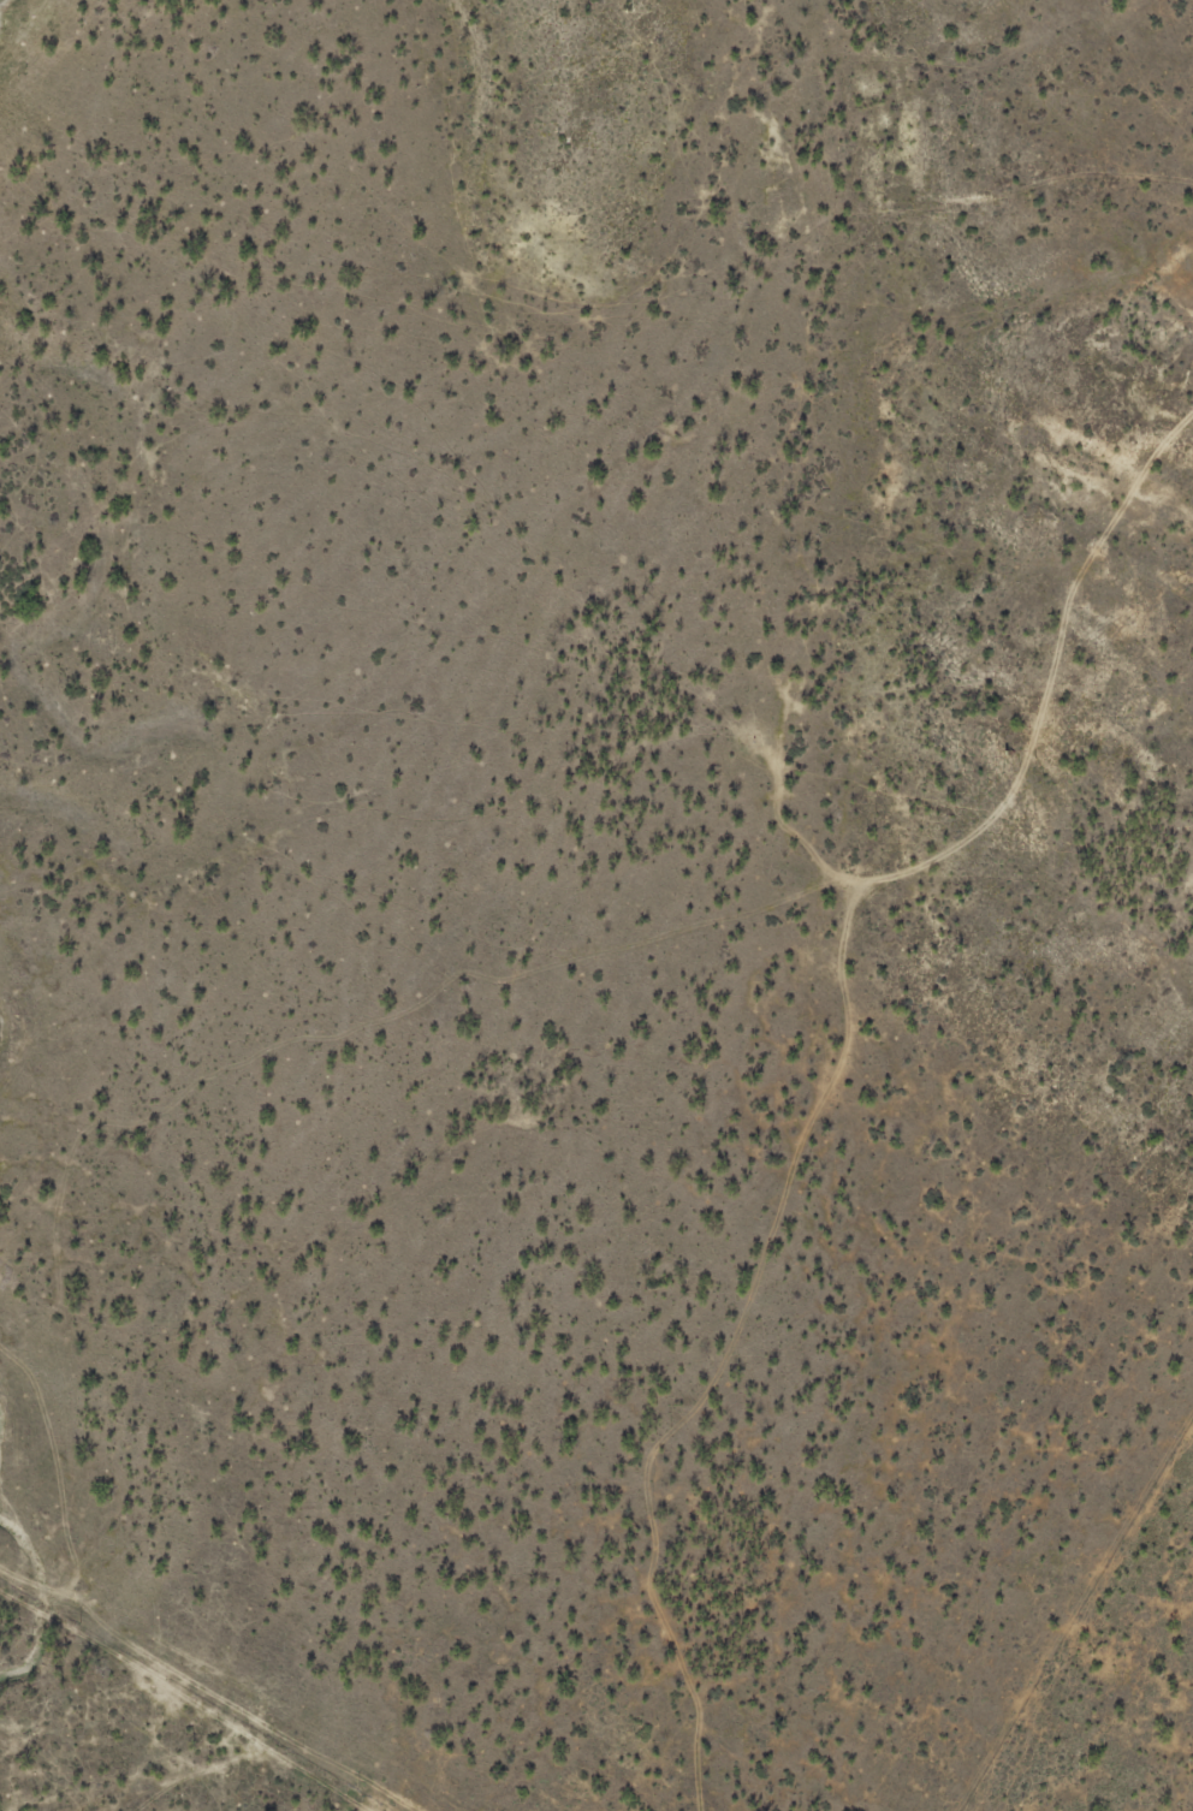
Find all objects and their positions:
road: (878, 1130)

